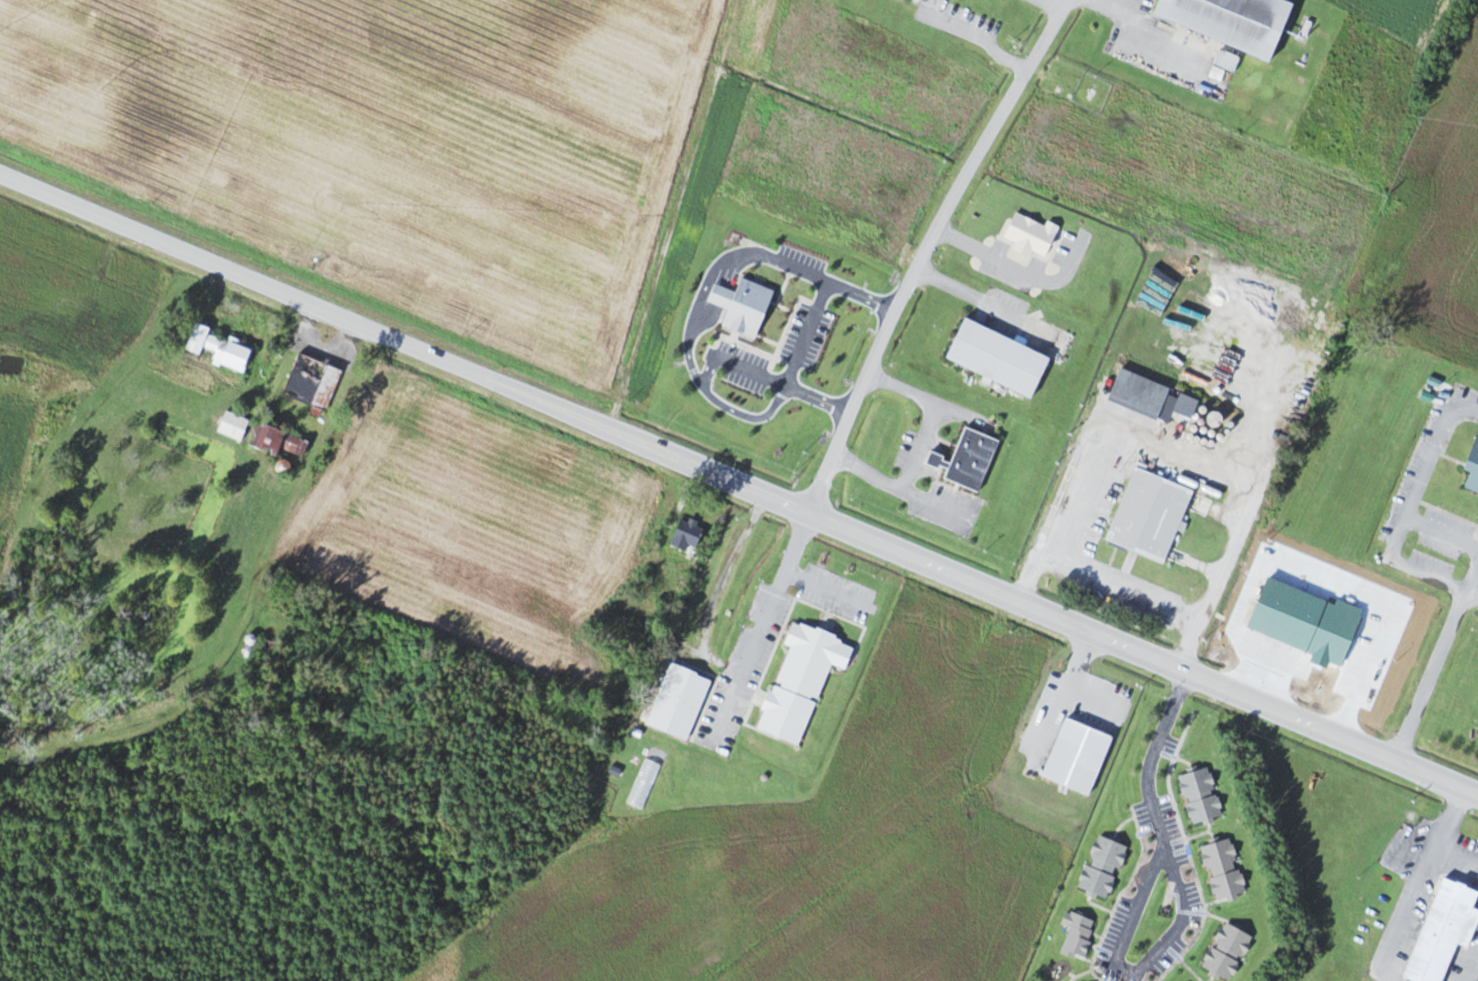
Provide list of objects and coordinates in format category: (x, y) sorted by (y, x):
building: (918, 0)
parking lot: (965, 13)
building: (1229, 22)
road: (927, 250)
building: (681, 259)
building: (745, 317)
building: (219, 348)
building: (997, 357)
building: (312, 382)
building: (1149, 397)
building: (234, 425)
building: (276, 441)
building: (971, 459)
building: (282, 466)
building: (1472, 469)
road: (738, 484)
building: (601, 505)
road: (1410, 506)
building: (1150, 524)
road: (1444, 532)
building: (685, 535)
road: (1472, 580)
road: (832, 589)
road: (1472, 594)
road: (774, 605)
building: (1376, 614)
building: (1330, 632)
building: (268, 646)
road: (1432, 676)
building: (801, 681)
building: (1079, 766)
building: (1201, 796)
building: (1102, 867)
building: (1223, 870)
road: (1184, 897)
building: (1077, 934)
building: (1444, 938)
building: (1227, 952)

